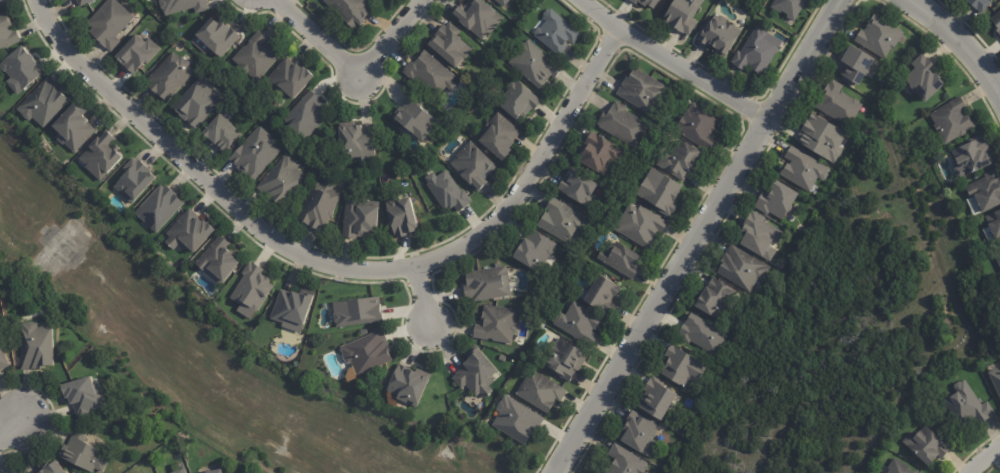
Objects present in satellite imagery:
building: (511, 0)
building: (84, 2)
building: (501, 2)
building: (2, 3)
building: (646, 3)
building: (979, 4)
building: (181, 6)
building: (789, 8)
building: (351, 10)
building: (682, 16)
building: (478, 17)
building: (996, 20)
building: (107, 24)
building: (556, 32)
building: (8, 33)
building: (216, 36)
building: (720, 36)
building: (879, 38)
road: (319, 39)
road: (391, 39)
road: (956, 40)
building: (449, 44)
building: (755, 51)
building: (137, 54)
building: (255, 56)
road: (670, 63)
building: (534, 64)
building: (855, 66)
building: (23, 68)
building: (428, 74)
building: (168, 77)
building: (925, 77)
building: (290, 78)
building: (640, 89)
building: (517, 99)
building: (45, 102)
building: (196, 102)
building: (838, 105)
building: (304, 116)
building: (417, 118)
building: (951, 121)
building: (74, 127)
building: (623, 127)
building: (697, 127)
building: (220, 133)
building: (498, 136)
building: (822, 138)
building: (354, 144)
building: (599, 152)
building: (255, 154)
building: (104, 155)
building: (971, 156)
building: (677, 163)
building: (474, 165)
building: (803, 169)
building: (137, 179)
building: (283, 181)
building: (580, 188)
building: (986, 189)
building: (448, 191)
building: (660, 193)
building: (778, 200)
building: (320, 205)
building: (160, 208)
building: (401, 216)
building: (360, 219)
building: (562, 221)
building: (994, 223)
building: (640, 227)
building: (192, 232)
road: (695, 237)
building: (758, 237)
building: (534, 250)
building: (997, 257)
building: (621, 259)
building: (221, 260)
road: (333, 267)
building: (742, 268)
building: (999, 276)
building: (487, 283)
building: (252, 288)
building: (605, 294)
building: (714, 298)
road: (427, 304)
building: (293, 308)
building: (356, 313)
building: (497, 323)
building: (577, 324)
building: (699, 332)
building: (38, 345)
building: (365, 353)
building: (564, 361)
building: (999, 361)
building: (1, 365)
building: (683, 367)
building: (478, 373)
building: (995, 380)
building: (410, 387)
building: (541, 392)
building: (84, 396)
building: (658, 398)
building: (968, 405)
building: (517, 421)
road: (10, 423)
building: (639, 436)
building: (927, 446)
building: (83, 455)
road: (987, 461)
building: (625, 462)
road: (570, 465)
building: (899, 466)
building: (49, 468)
building: (180, 471)
building: (15, 472)
building: (63, 472)
building: (218, 472)

